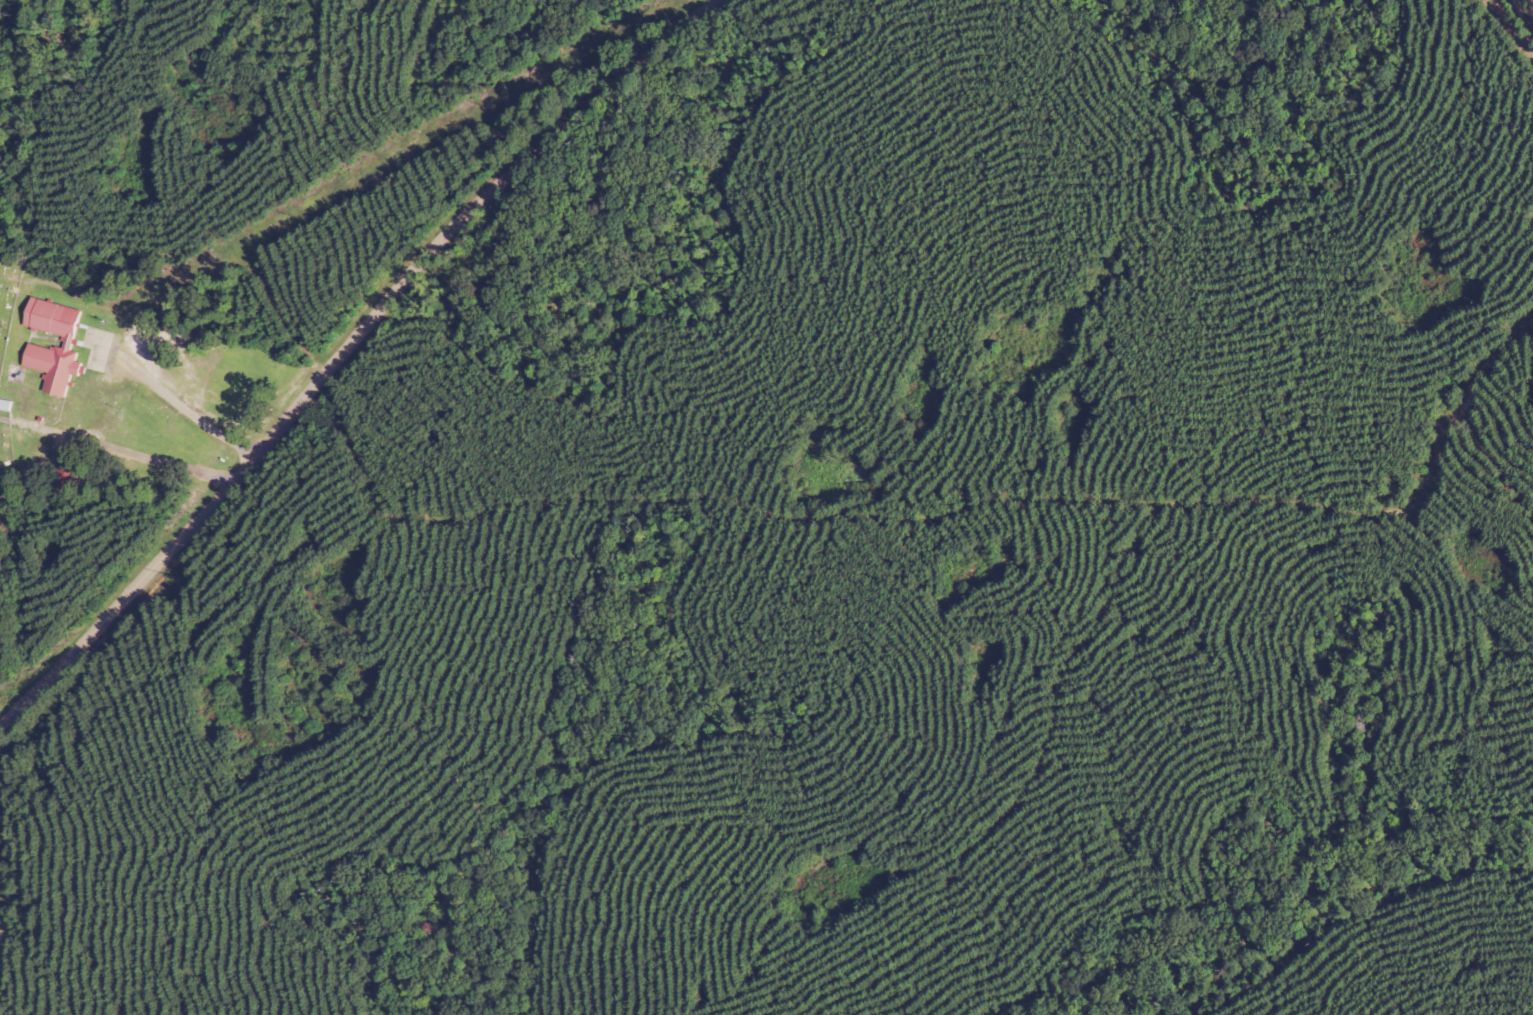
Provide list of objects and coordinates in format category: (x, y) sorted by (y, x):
road: (183, 389)
road: (374, 405)

